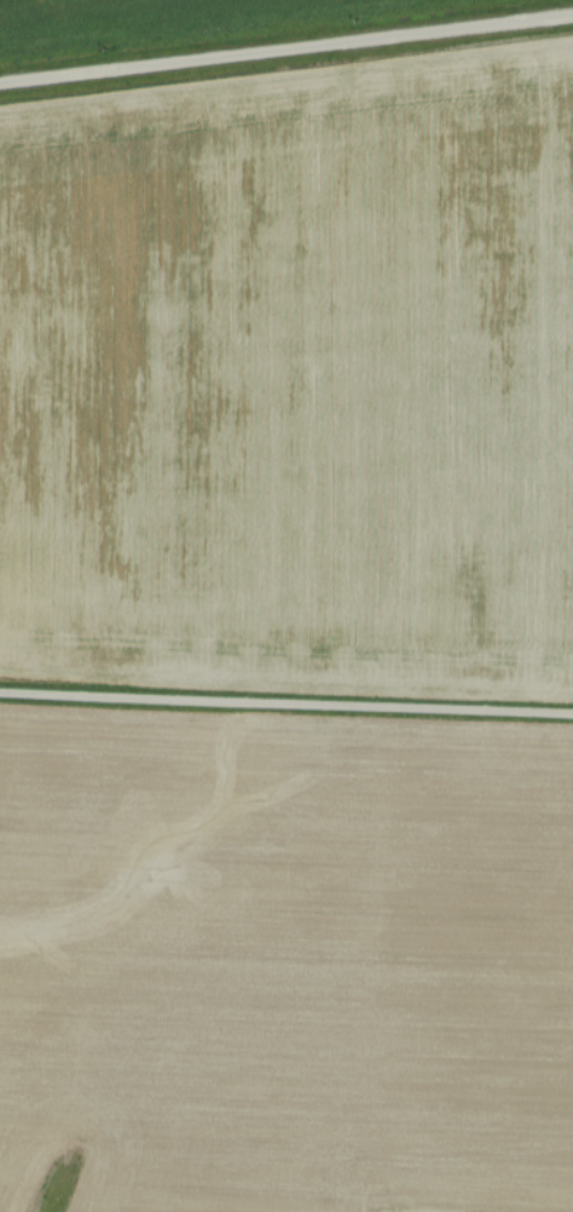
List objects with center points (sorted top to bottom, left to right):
road: (286, 48)
road: (285, 702)

